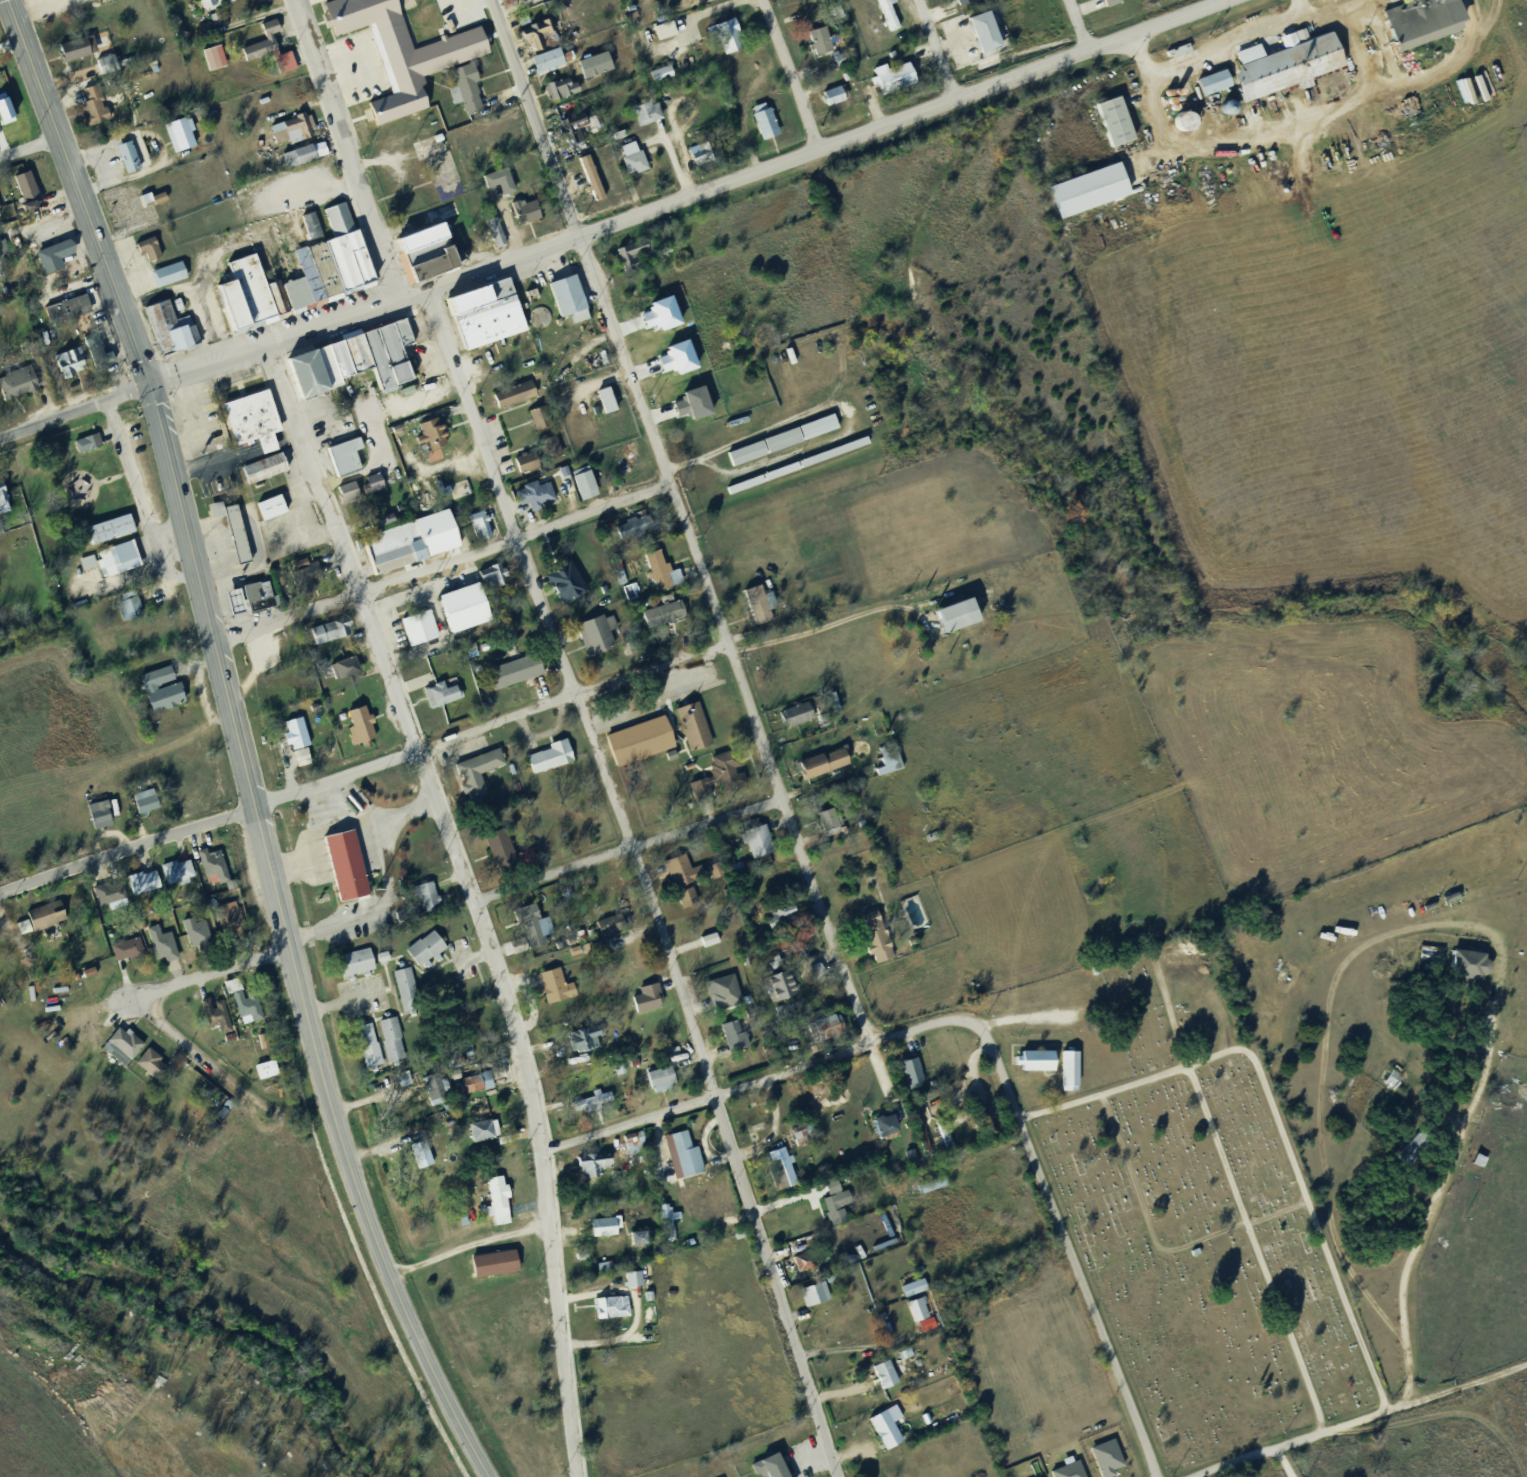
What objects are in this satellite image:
building: (510, 1)
building: (956, 3)
building: (1107, 4)
building: (208, 5)
road: (1300, 7)
building: (891, 14)
building: (883, 17)
building: (210, 23)
road: (1076, 23)
building: (1419, 23)
building: (668, 28)
building: (991, 31)
road: (1251, 34)
building: (659, 35)
building: (532, 37)
building: (980, 38)
building: (823, 39)
building: (724, 40)
building: (81, 45)
building: (815, 45)
road: (936, 47)
road: (1362, 49)
building: (264, 51)
building: (396, 52)
building: (69, 53)
road: (1137, 55)
building: (1174, 55)
building: (288, 60)
building: (833, 60)
building: (210, 61)
building: (542, 65)
building: (1282, 68)
building: (590, 69)
building: (663, 71)
road: (789, 71)
building: (656, 77)
building: (886, 81)
building: (470, 86)
building: (1208, 87)
building: (556, 93)
building: (1174, 95)
silo: (1174, 95)
building: (459, 96)
building: (1163, 97)
silo: (1163, 97)
building: (829, 99)
building: (1166, 105)
silo: (1166, 105)
building: (8, 107)
building: (648, 110)
building: (88, 111)
building: (1169, 112)
silo: (1169, 112)
building: (1222, 112)
silo: (1222, 112)
road: (534, 115)
road: (1320, 115)
building: (640, 117)
building: (770, 122)
building: (1178, 124)
silo: (1178, 124)
building: (759, 126)
building: (1108, 127)
building: (568, 130)
building: (289, 134)
building: (175, 140)
building: (500, 140)
building: (433, 142)
road: (29, 147)
road: (345, 147)
road: (331, 150)
building: (698, 158)
building: (125, 160)
building: (293, 160)
building: (629, 164)
building: (503, 178)
building: (595, 178)
park: (440, 180)
building: (586, 183)
building: (494, 185)
building: (31, 189)
road: (79, 192)
road: (681, 192)
building: (21, 196)
building: (162, 196)
building: (1082, 196)
building: (145, 203)
building: (0, 208)
building: (529, 209)
building: (520, 216)
building: (314, 222)
building: (498, 230)
building: (491, 236)
building: (153, 246)
building: (144, 252)
building: (429, 252)
building: (341, 255)
building: (49, 259)
building: (630, 260)
building: (316, 262)
building: (3, 263)
building: (163, 278)
building: (304, 280)
building: (494, 292)
building: (571, 293)
building: (247, 294)
building: (291, 299)
building: (526, 300)
building: (273, 301)
building: (563, 304)
building: (62, 312)
building: (227, 312)
building: (668, 312)
building: (581, 314)
building: (535, 319)
storage tank: (535, 319)
building: (477, 321)
fountain: (412, 324)
building: (166, 332)
building: (396, 338)
building: (353, 349)
building: (103, 354)
building: (93, 355)
building: (684, 356)
building: (350, 362)
building: (66, 363)
building: (381, 364)
building: (335, 365)
building: (321, 370)
building: (408, 371)
building: (302, 382)
building: (670, 383)
traffic signals: (149, 385)
building: (14, 386)
road: (428, 397)
building: (509, 398)
building: (611, 398)
building: (704, 400)
building: (601, 405)
road: (74, 410)
building: (542, 416)
building: (534, 423)
building: (248, 426)
building: (426, 439)
building: (552, 444)
building: (778, 444)
building: (83, 445)
building: (634, 449)
building: (625, 454)
building: (535, 460)
building: (344, 461)
building: (792, 469)
building: (259, 473)
building: (588, 481)
building: (375, 482)
building: (368, 487)
building: (579, 487)
building: (351, 490)
building: (3, 492)
building: (435, 493)
building: (343, 496)
building: (531, 498)
road: (140, 501)
building: (2, 508)
building: (266, 512)
building: (483, 523)
building: (375, 525)
building: (236, 527)
building: (633, 529)
building: (476, 530)
building: (106, 533)
building: (227, 534)
building: (406, 546)
building: (114, 561)
road: (442, 563)
building: (83, 564)
building: (654, 574)
building: (299, 579)
building: (491, 579)
building: (561, 586)
road: (203, 595)
building: (240, 598)
building: (255, 600)
building: (229, 607)
building: (126, 611)
building: (755, 611)
building: (459, 613)
building: (659, 617)
building: (951, 621)
road: (832, 623)
building: (415, 632)
building: (323, 635)
road: (723, 635)
building: (591, 636)
building: (341, 672)
building: (509, 675)
building: (167, 691)
building: (288, 699)
building: (438, 699)
building: (310, 709)
building: (791, 718)
road: (490, 725)
building: (356, 728)
building: (688, 730)
building: (292, 736)
building: (634, 745)
building: (305, 754)
building: (893, 758)
building: (546, 760)
building: (817, 767)
building: (884, 768)
building: (472, 776)
building: (714, 782)
building: (140, 803)
building: (351, 805)
storage tank: (351, 805)
building: (103, 812)
building: (95, 819)
road: (707, 822)
building: (828, 823)
building: (753, 847)
road: (127, 850)
building: (499, 856)
building: (208, 867)
building: (717, 868)
building: (341, 869)
road: (552, 874)
building: (173, 875)
road: (642, 877)
road: (272, 878)
building: (678, 882)
building: (137, 888)
building: (112, 892)
road: (470, 897)
building: (103, 900)
building: (422, 900)
road: (480, 909)
building: (232, 918)
building: (41, 919)
building: (777, 920)
building: (224, 926)
road: (1457, 926)
building: (609, 928)
building: (529, 929)
building: (712, 937)
building: (193, 938)
building: (871, 942)
building: (705, 944)
building: (157, 947)
building: (582, 947)
building: (421, 951)
building: (123, 952)
building: (351, 965)
building: (770, 967)
building: (819, 968)
building: (1462, 968)
building: (786, 983)
road: (182, 984)
building: (552, 989)
building: (777, 991)
building: (401, 992)
building: (719, 995)
building: (246, 1001)
building: (643, 1002)
building: (175, 1006)
building: (213, 1020)
building: (822, 1032)
building: (588, 1036)
building: (730, 1039)
building: (386, 1041)
building: (577, 1044)
building: (364, 1048)
building: (118, 1049)
building: (155, 1062)
road: (999, 1065)
building: (1030, 1065)
building: (146, 1066)
building: (268, 1067)
building: (916, 1071)
building: (261, 1073)
building: (1065, 1074)
building: (906, 1077)
building: (480, 1080)
building: (657, 1082)
road: (753, 1082)
building: (436, 1086)
building: (429, 1090)
road: (1101, 1093)
building: (590, 1104)
building: (881, 1126)
building: (487, 1128)
building: (477, 1135)
building: (797, 1135)
building: (636, 1141)
building: (1412, 1148)
building: (913, 1155)
building: (418, 1157)
building: (683, 1160)
building: (597, 1161)
building: (772, 1172)
building: (929, 1188)
building: (493, 1203)
building: (833, 1209)
building: (670, 1212)
park: (1202, 1216)
road: (368, 1221)
building: (666, 1223)
building: (608, 1224)
building: (599, 1230)
building: (644, 1236)
building: (633, 1240)
road: (468, 1246)
road: (1255, 1248)
building: (808, 1258)
building: (606, 1264)
building: (488, 1268)
building: (600, 1269)
building: (635, 1277)
building: (629, 1283)
building: (909, 1292)
building: (811, 1297)
building: (644, 1299)
road: (1087, 1300)
building: (919, 1307)
building: (606, 1310)
building: (913, 1314)
building: (928, 1322)
building: (924, 1328)
building: (889, 1372)
building: (880, 1379)
park: (238, 1418)
road: (1361, 1419)
building: (890, 1426)
building: (882, 1434)
building: (1102, 1461)
road: (1284, 1461)
building: (764, 1468)
building: (1064, 1472)
building: (1040, 1476)

